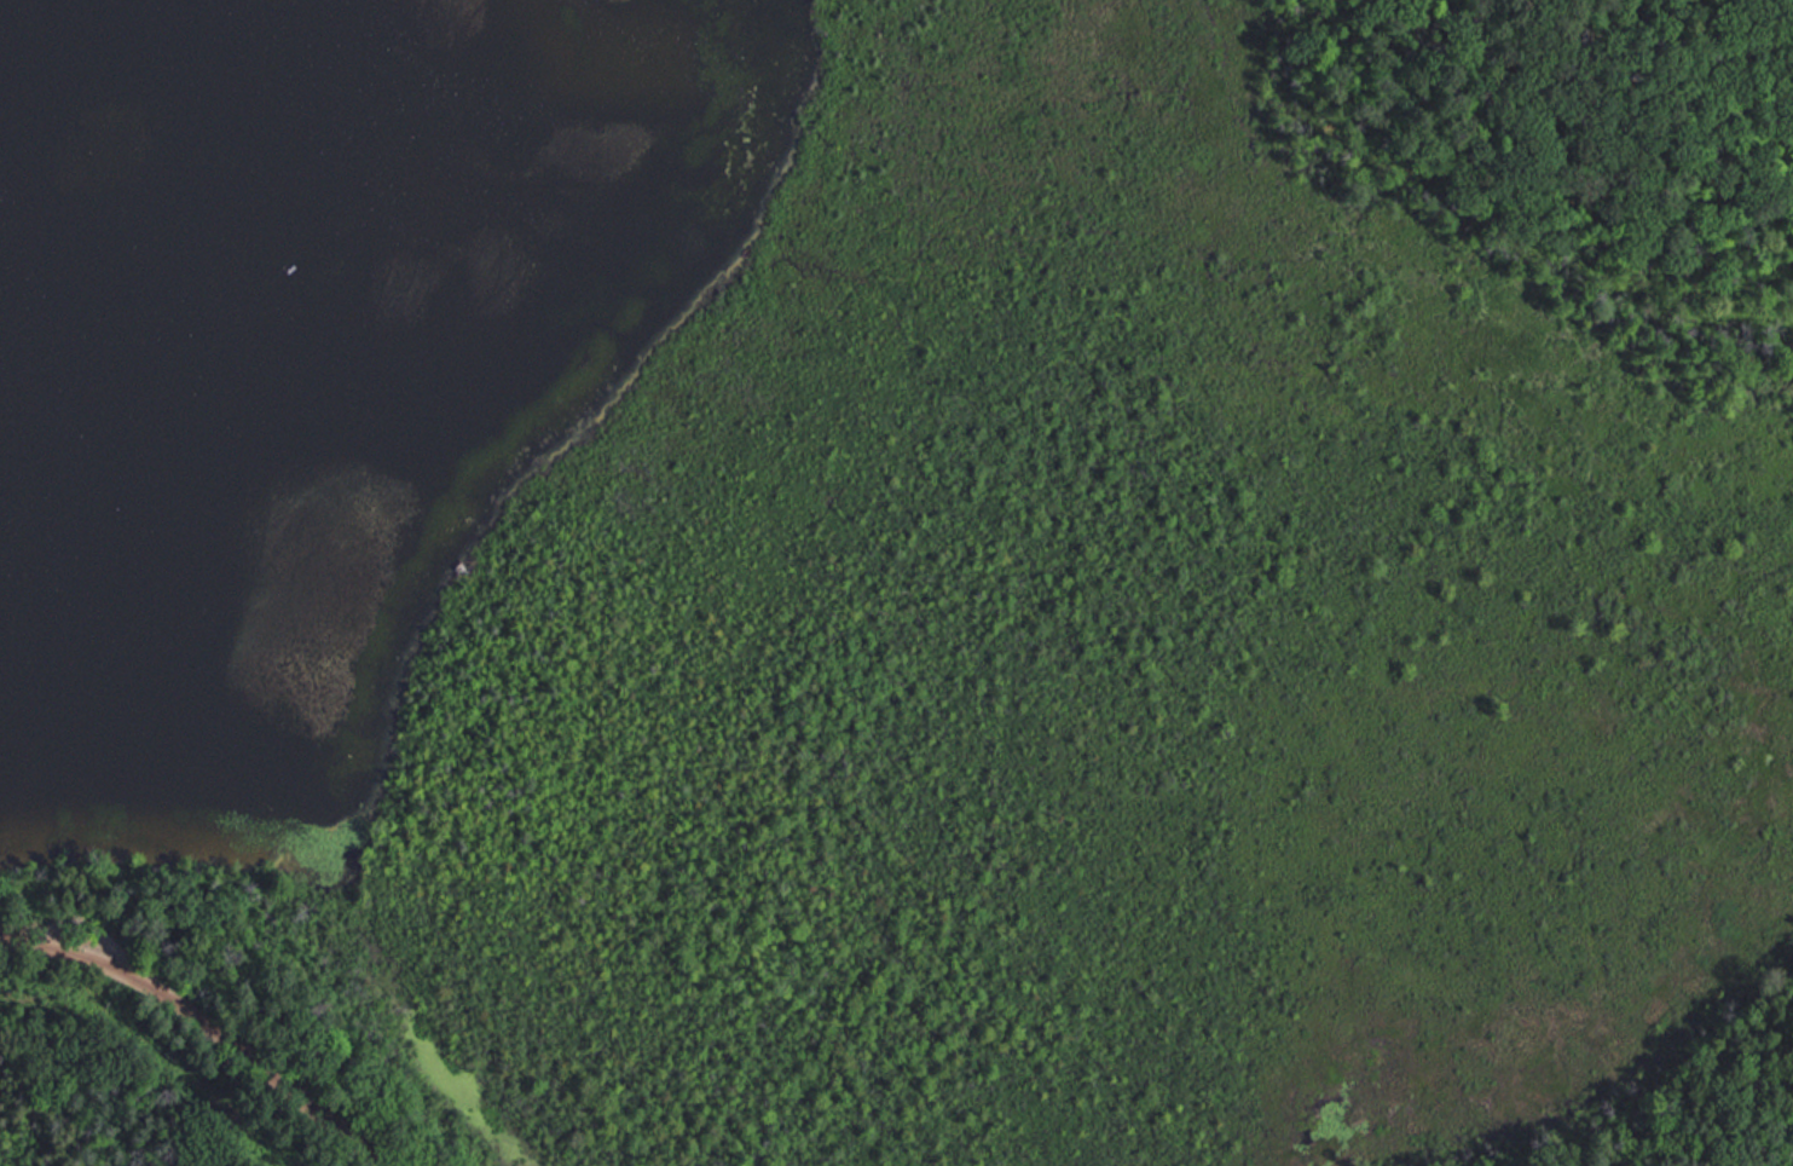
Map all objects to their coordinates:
road: (199, 1026)

